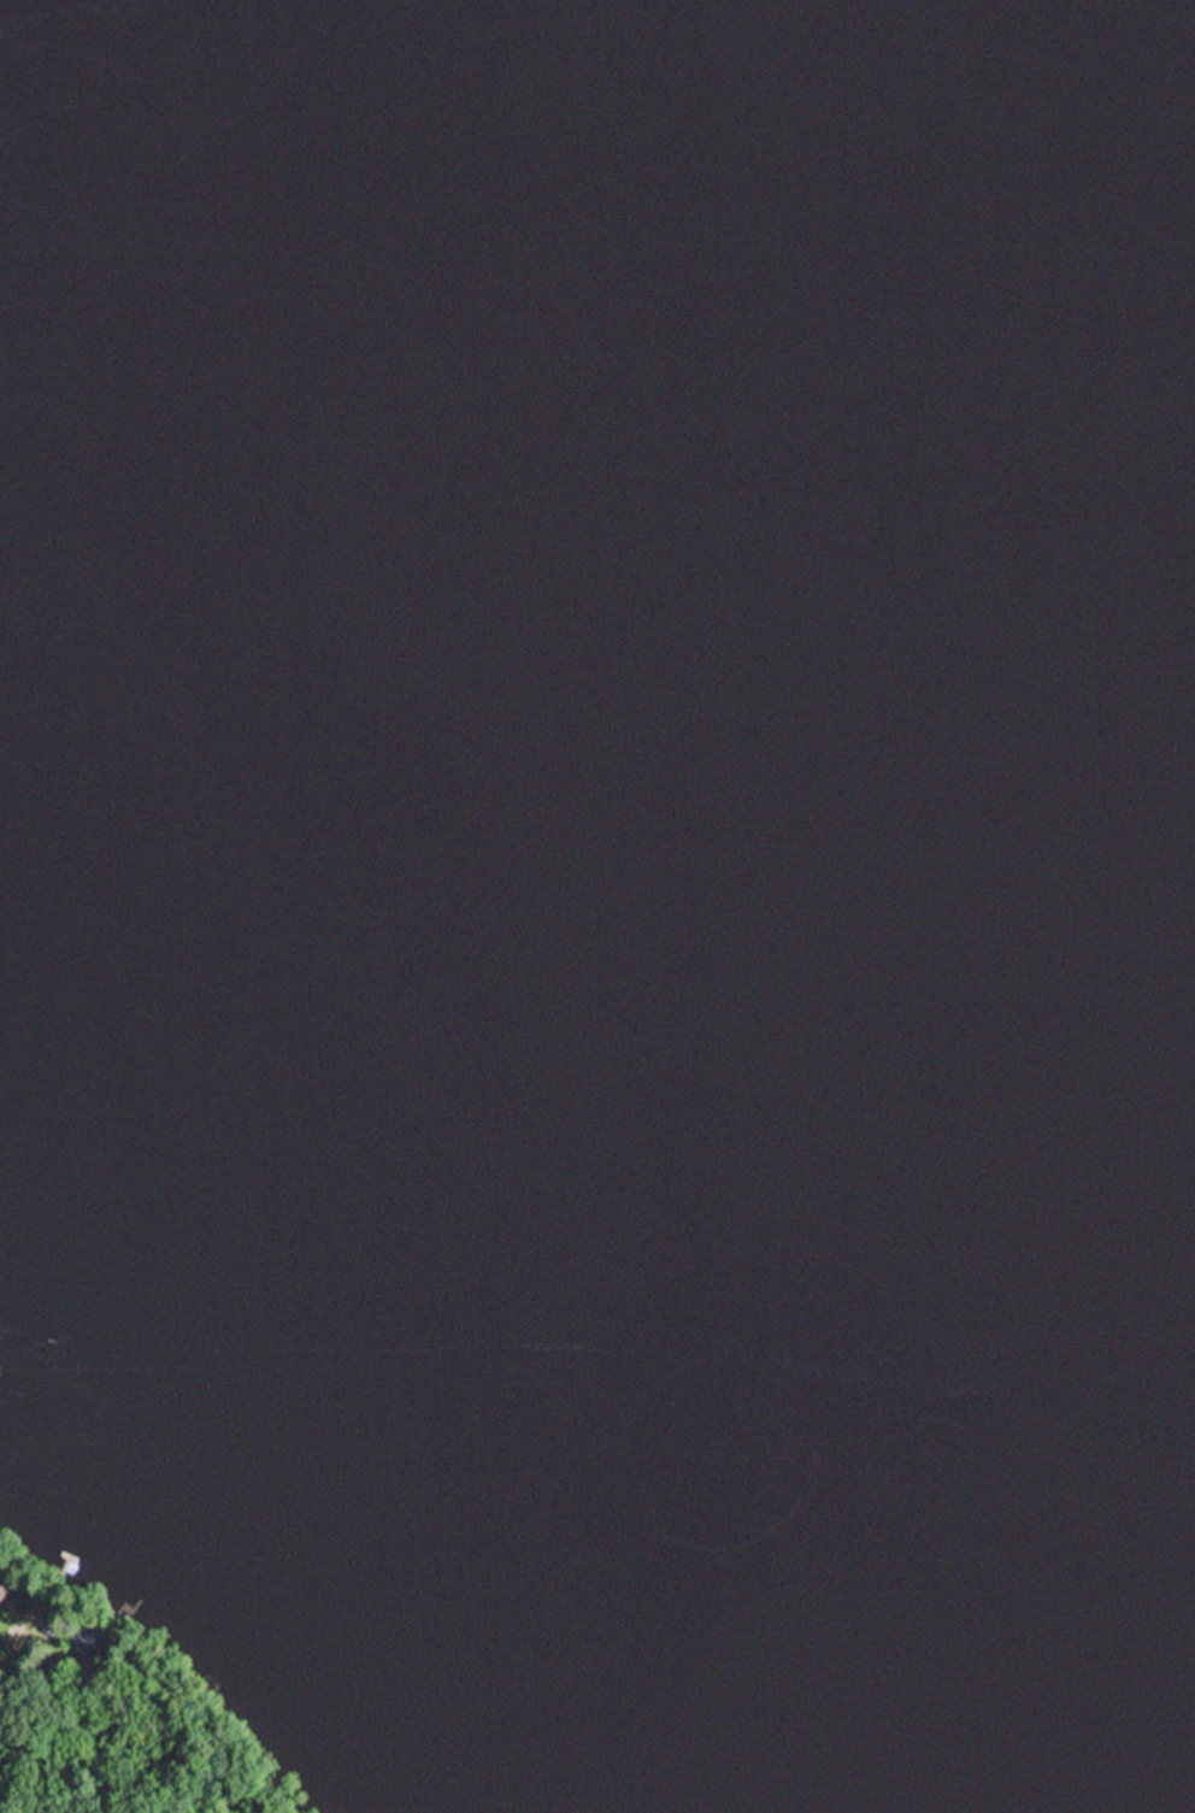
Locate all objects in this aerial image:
building: (5, 1591)
building: (86, 1640)

